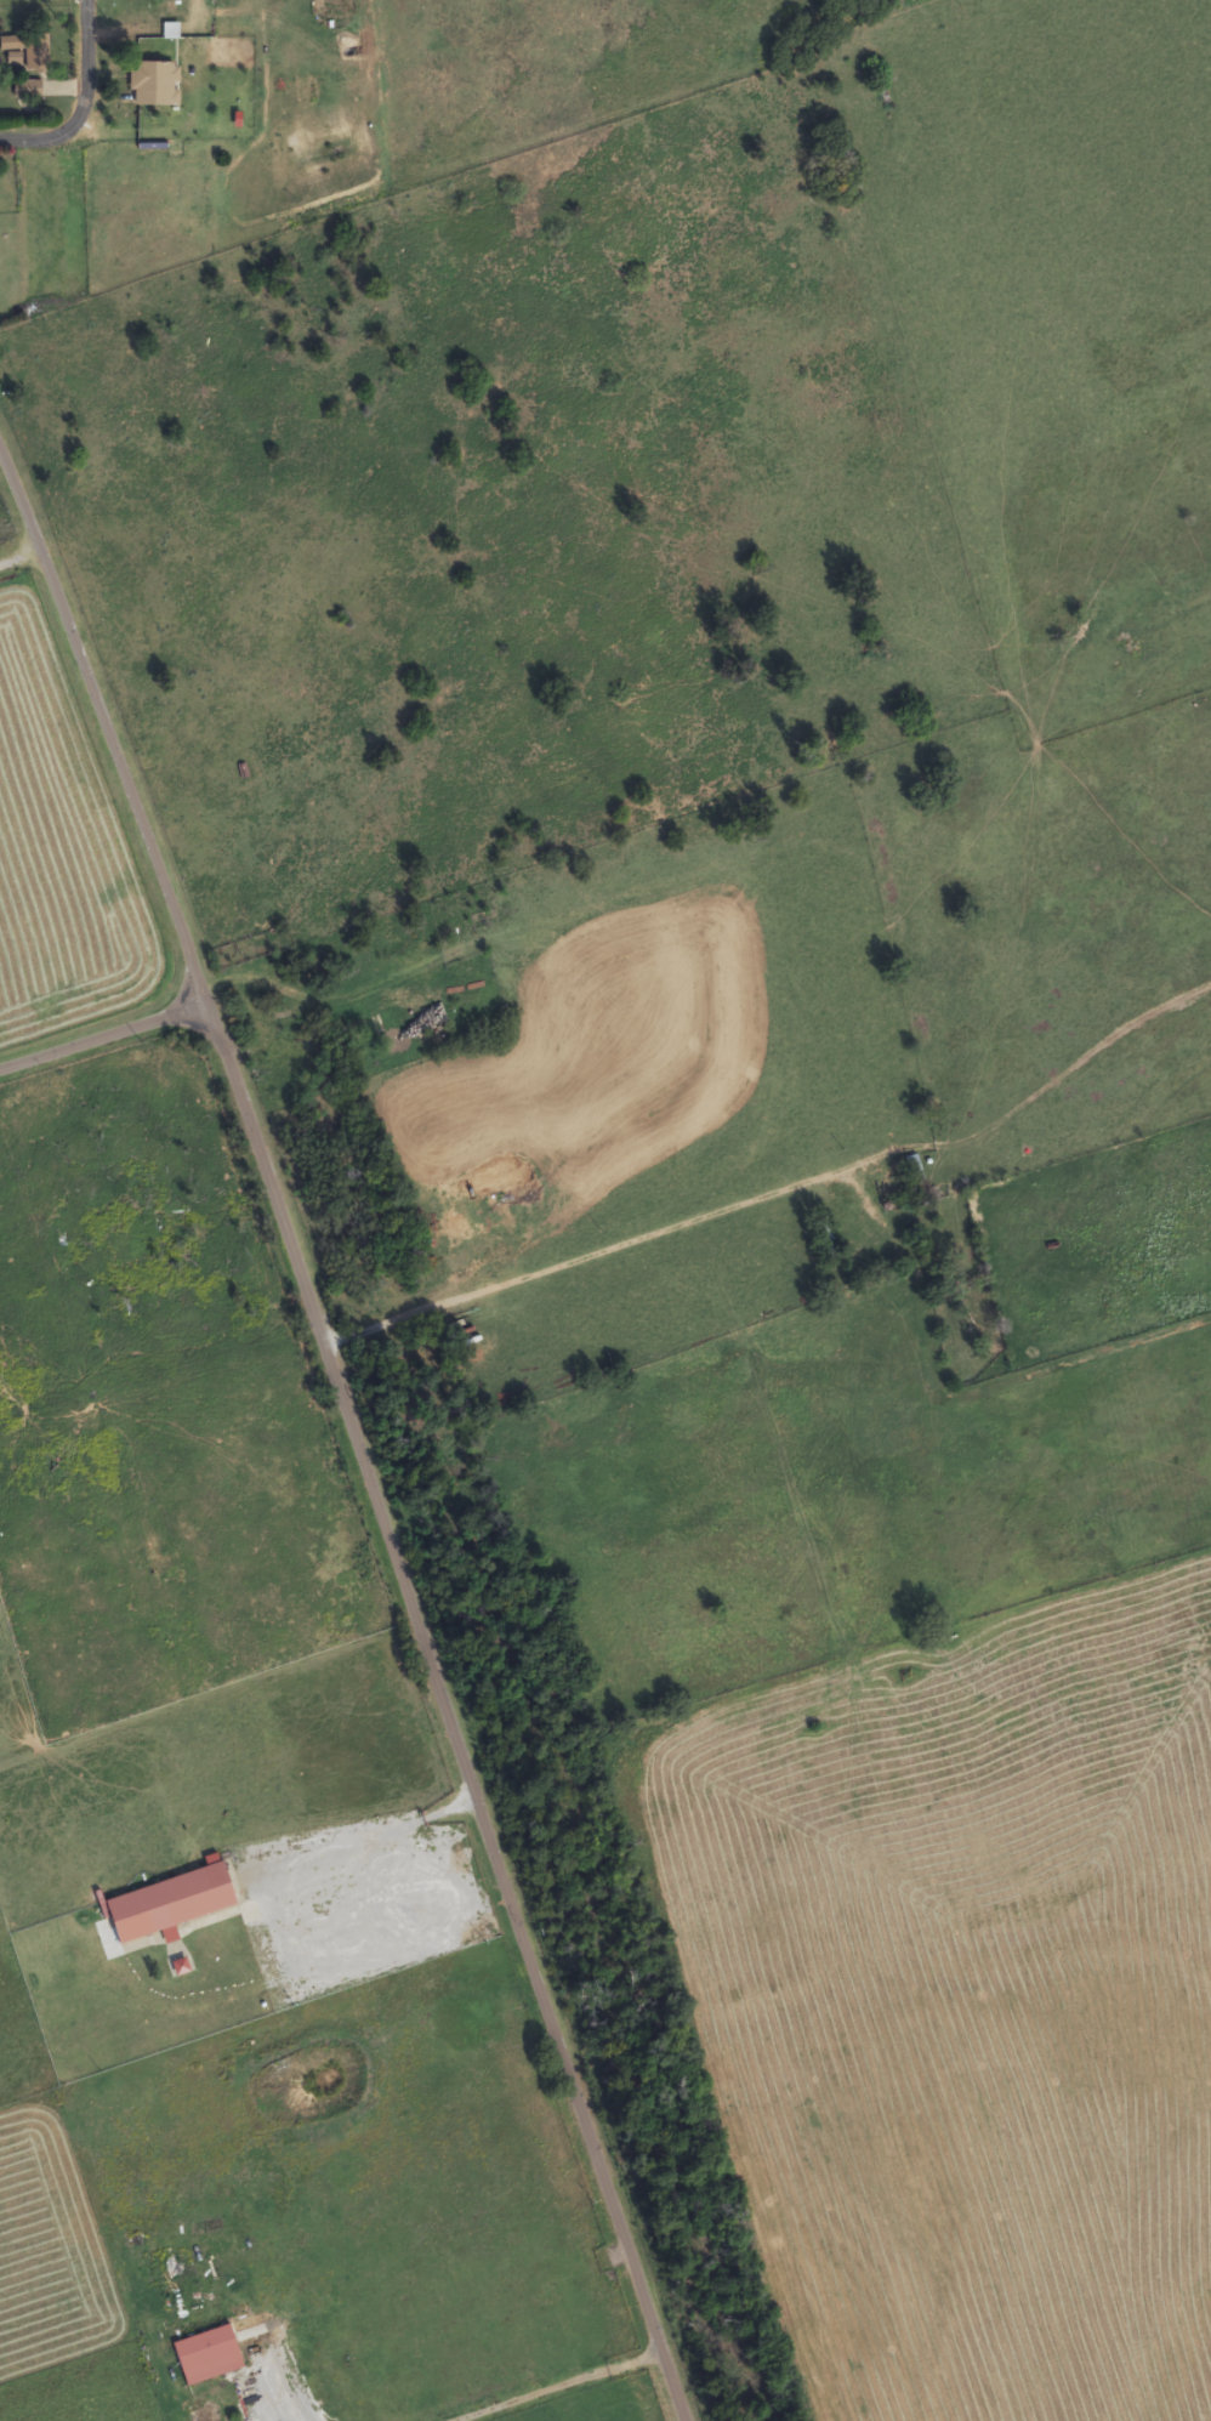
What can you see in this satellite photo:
building: (27, 50)
road: (79, 72)
building: (155, 84)
building: (28, 89)
road: (39, 142)
road: (104, 1041)
road: (356, 1440)
building: (172, 1903)
building: (209, 2355)

